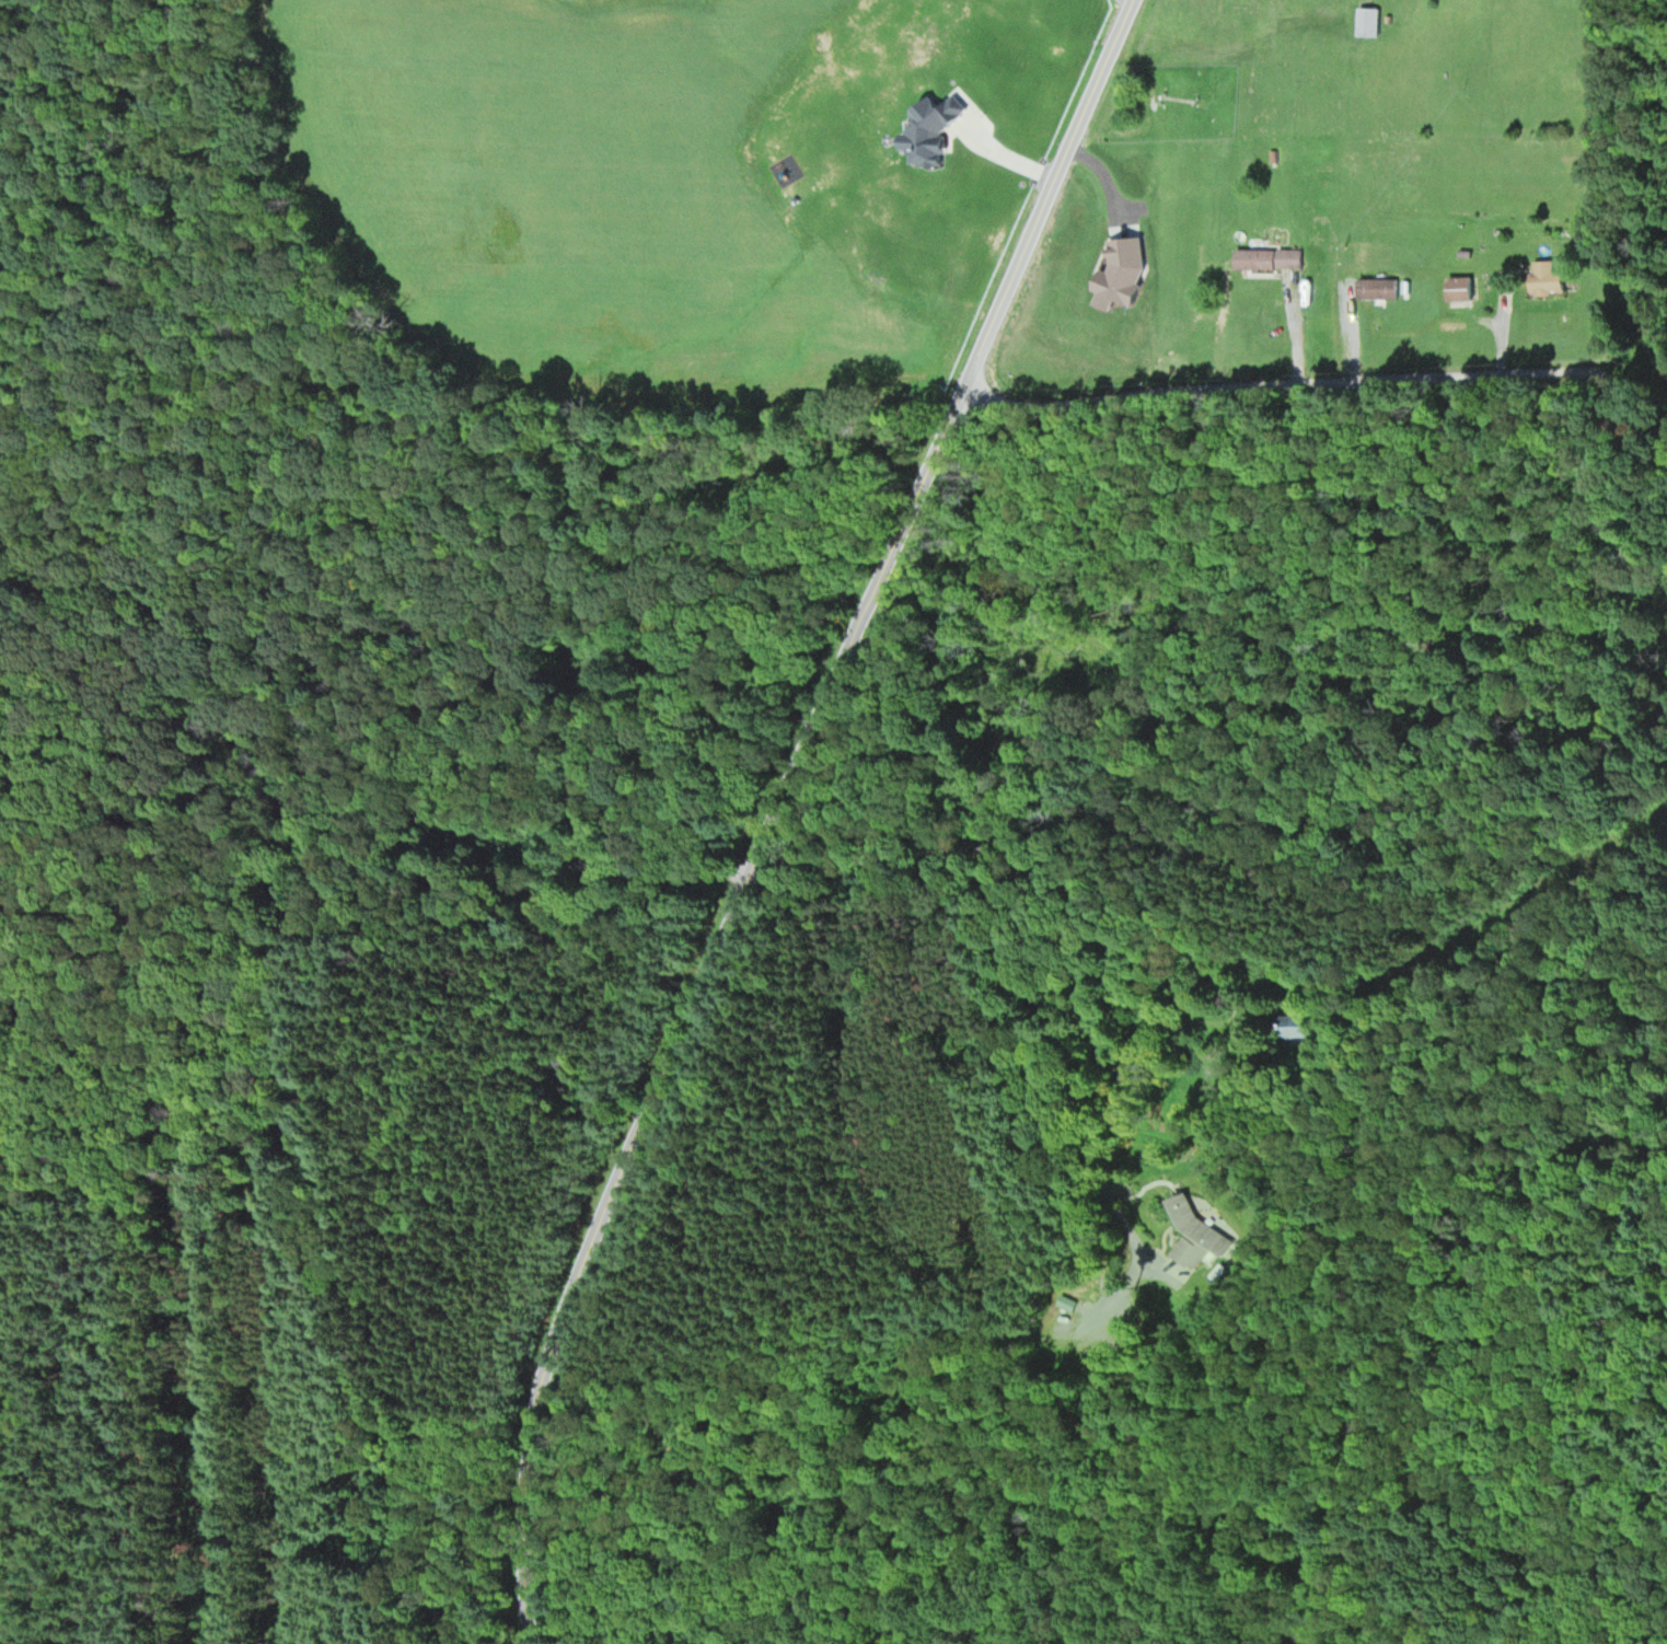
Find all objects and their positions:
building: (1367, 21)
building: (1269, 258)
building: (1547, 277)
building: (1460, 287)
building: (1377, 288)
road: (1369, 379)
road: (767, 800)
road: (299, 903)
road: (1026, 935)
building: (1290, 1027)
building: (1195, 1230)
building: (1073, 1303)

